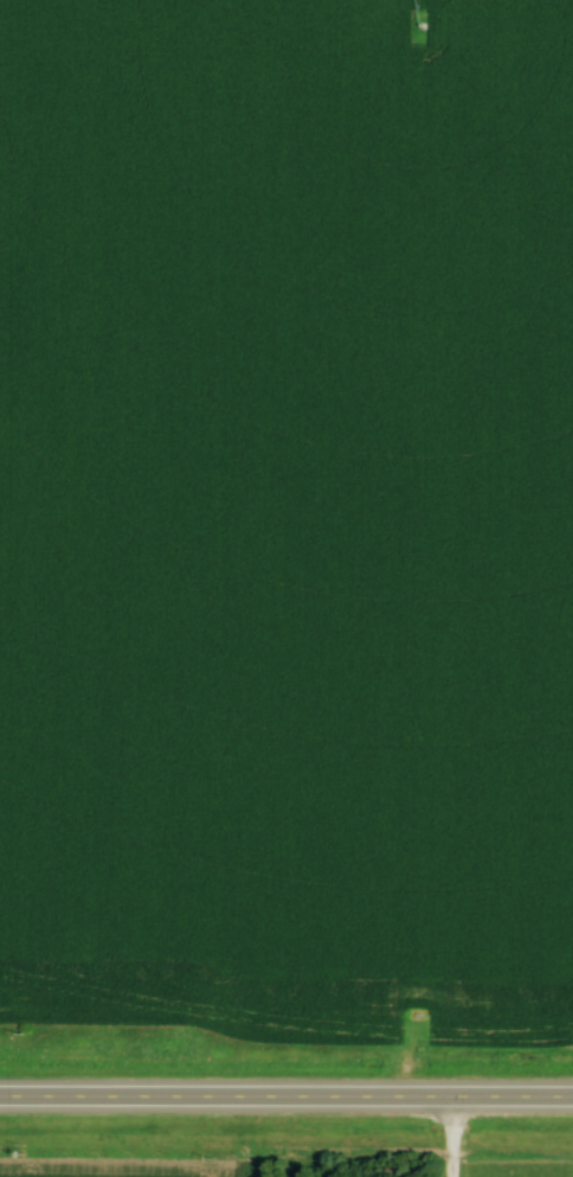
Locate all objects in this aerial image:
road: (285, 1099)
road: (456, 1138)
crop: (118, 1165)

